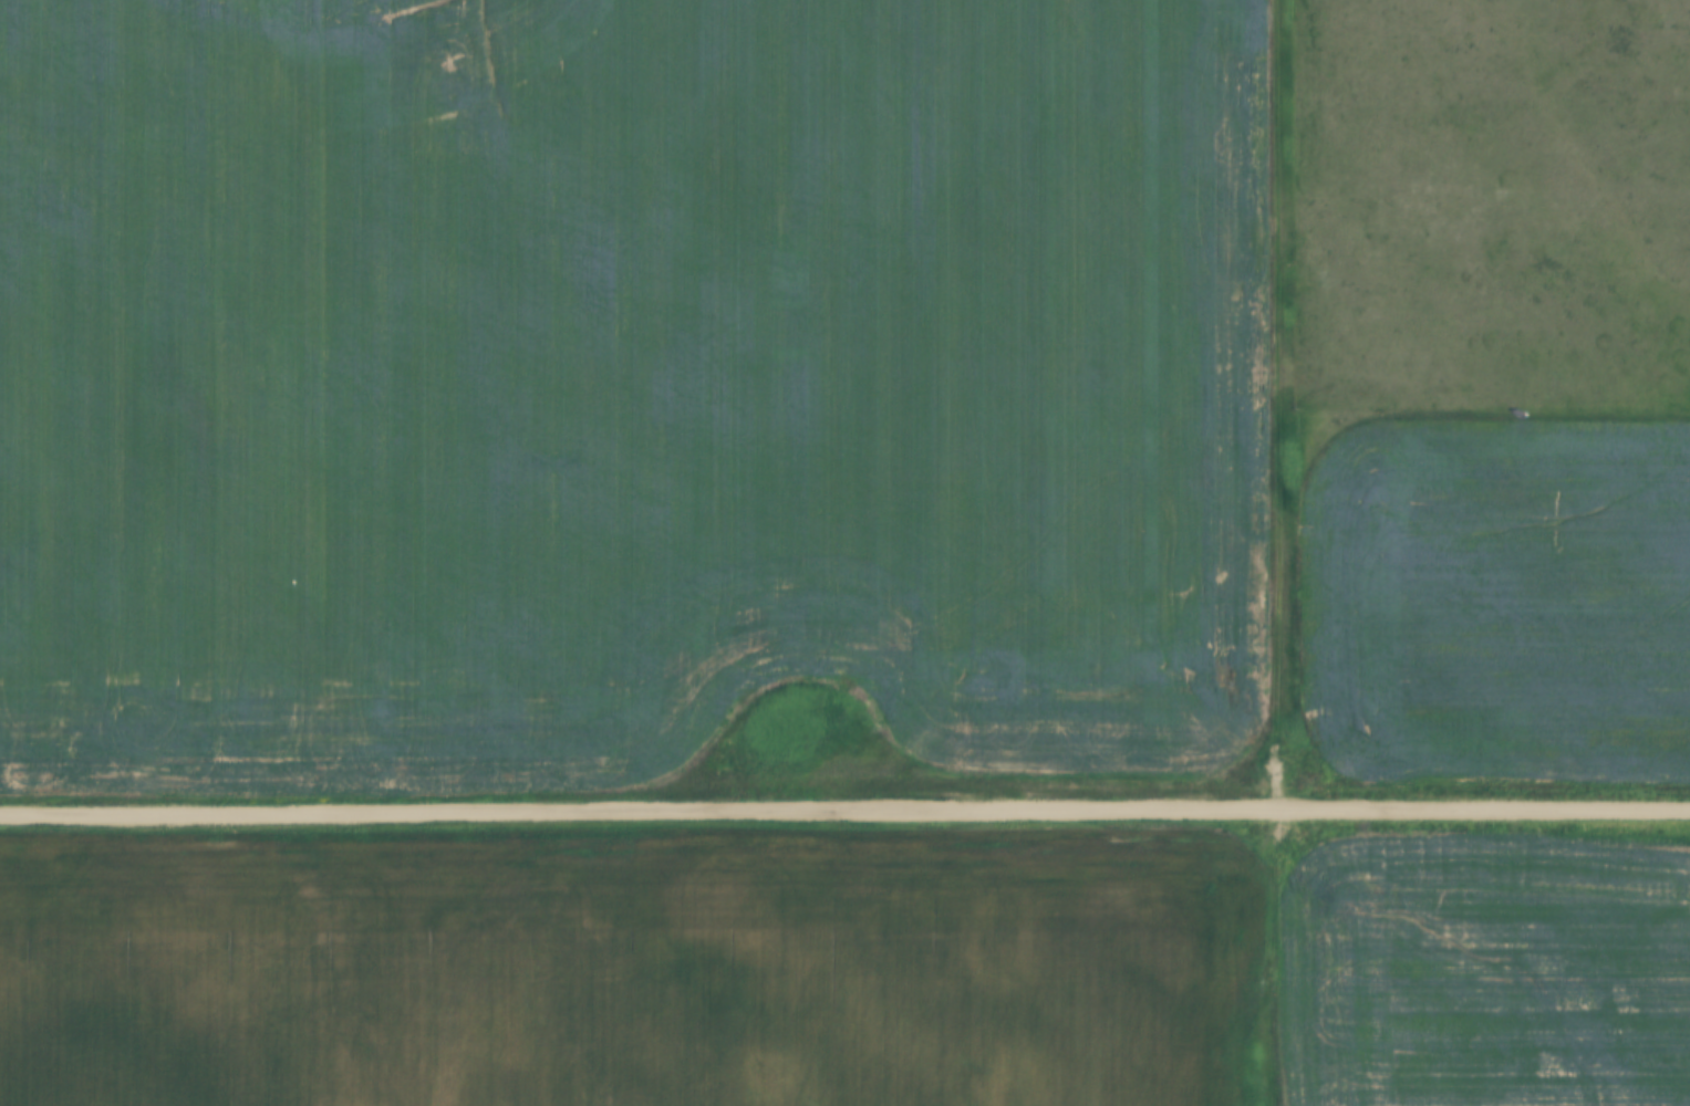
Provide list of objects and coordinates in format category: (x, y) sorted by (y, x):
road: (1278, 552)
road: (844, 801)

